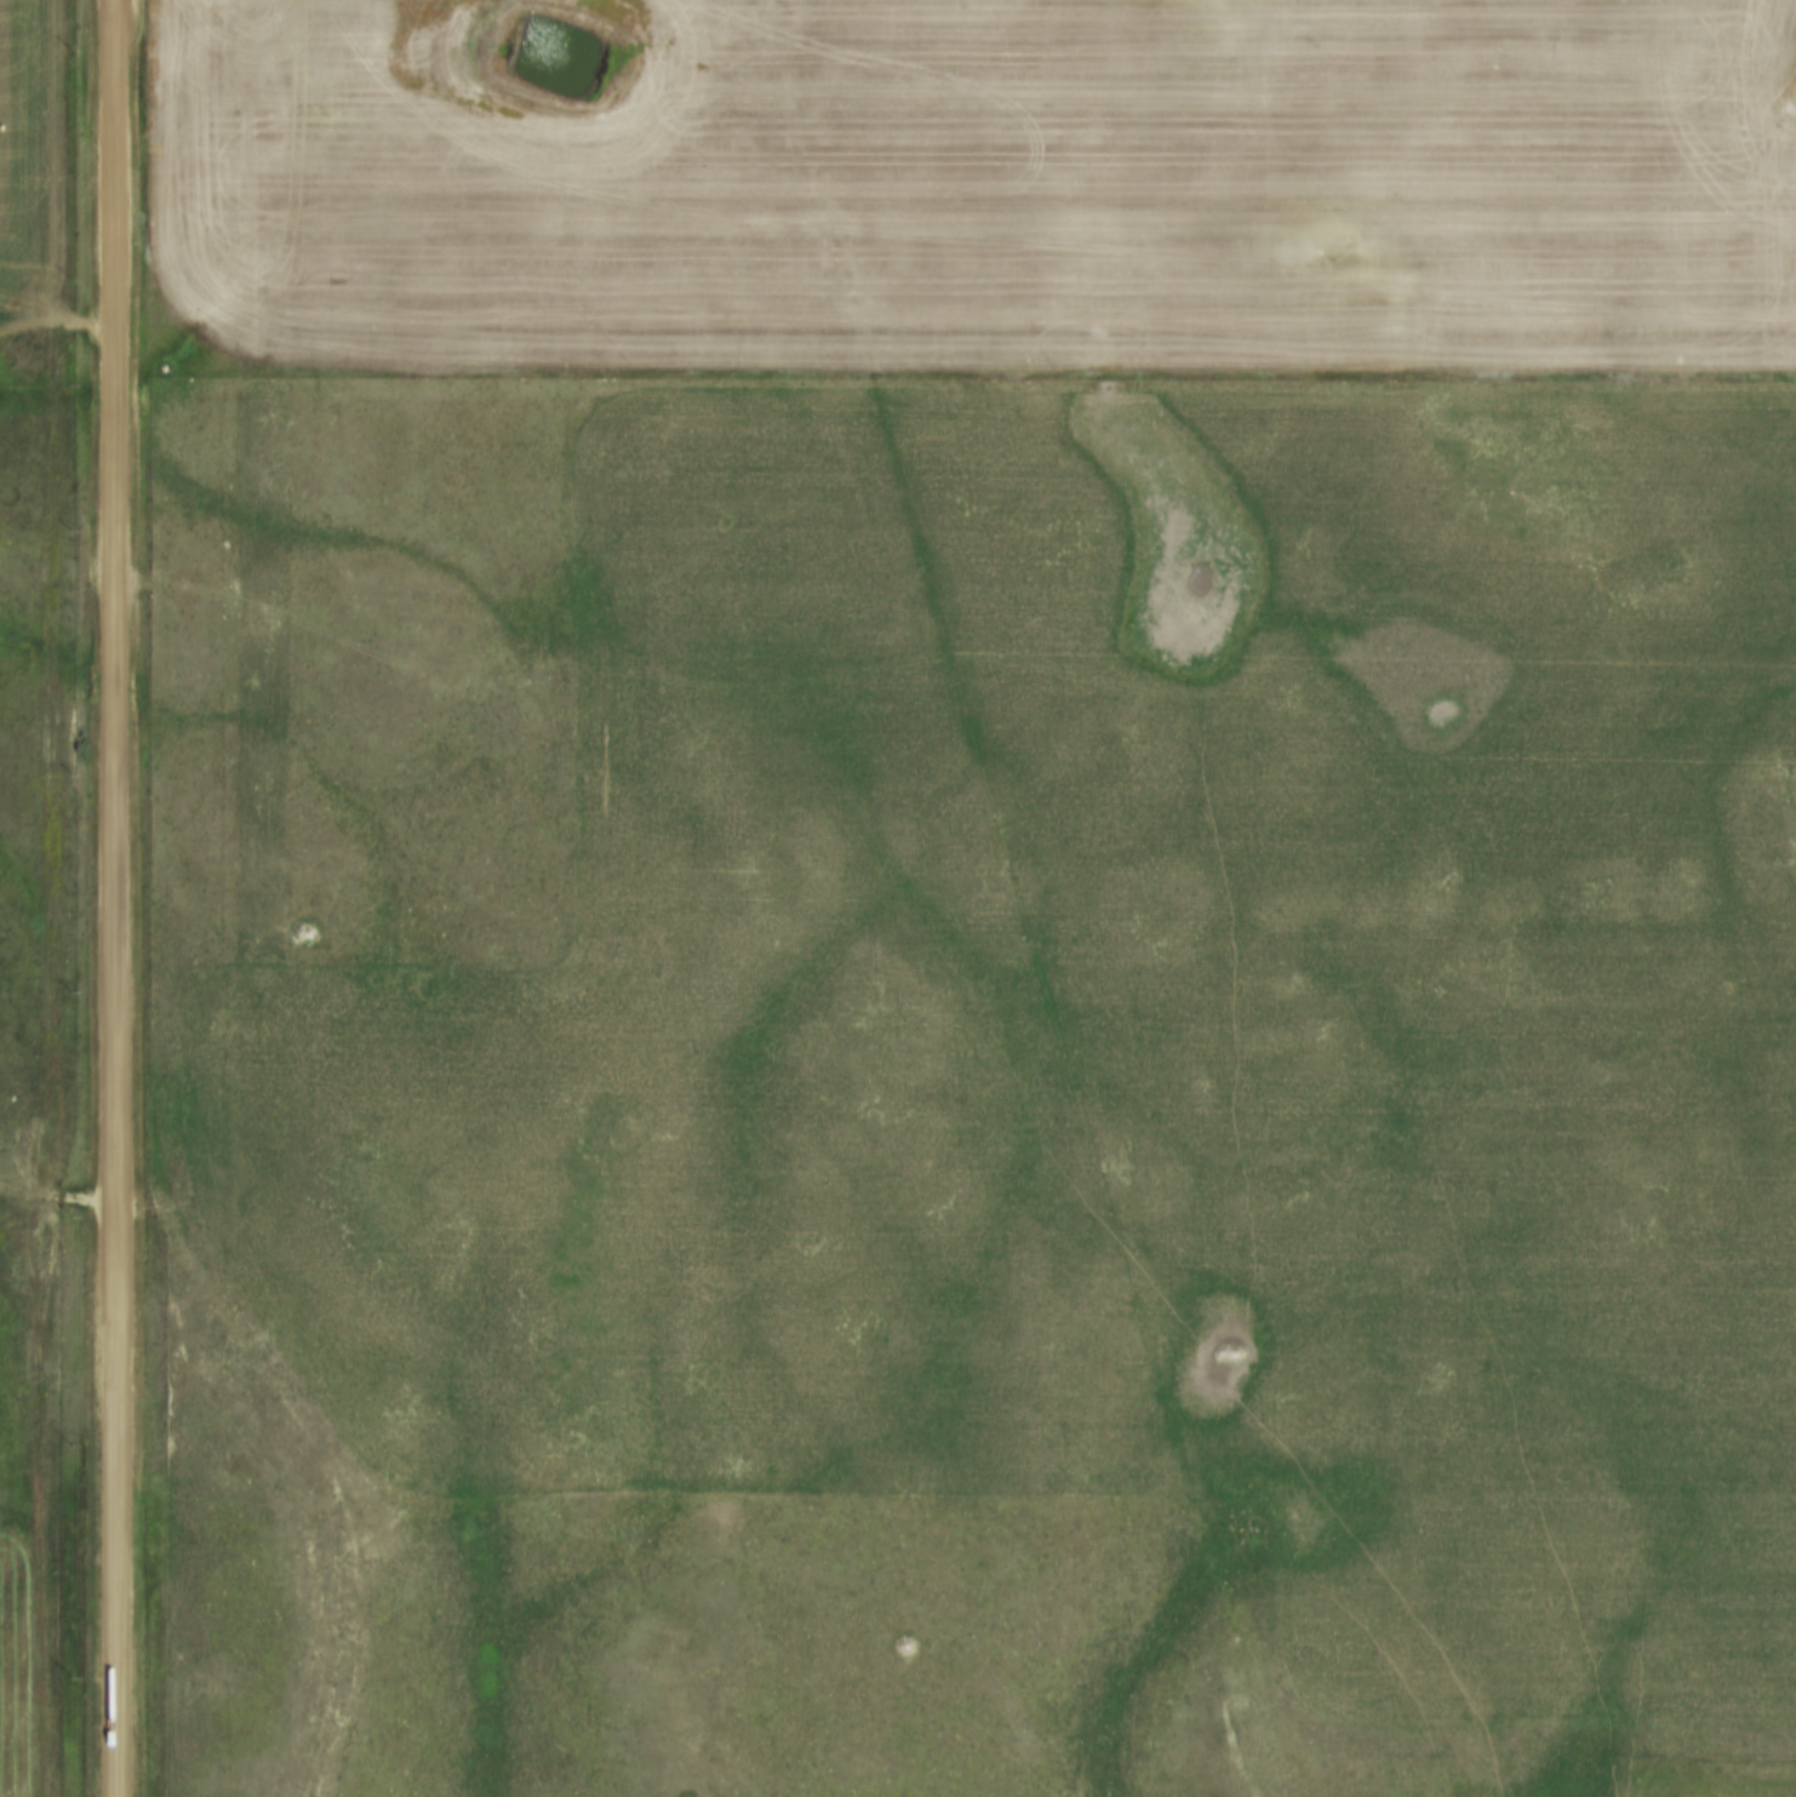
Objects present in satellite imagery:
road: (57, 324)
road: (114, 898)

